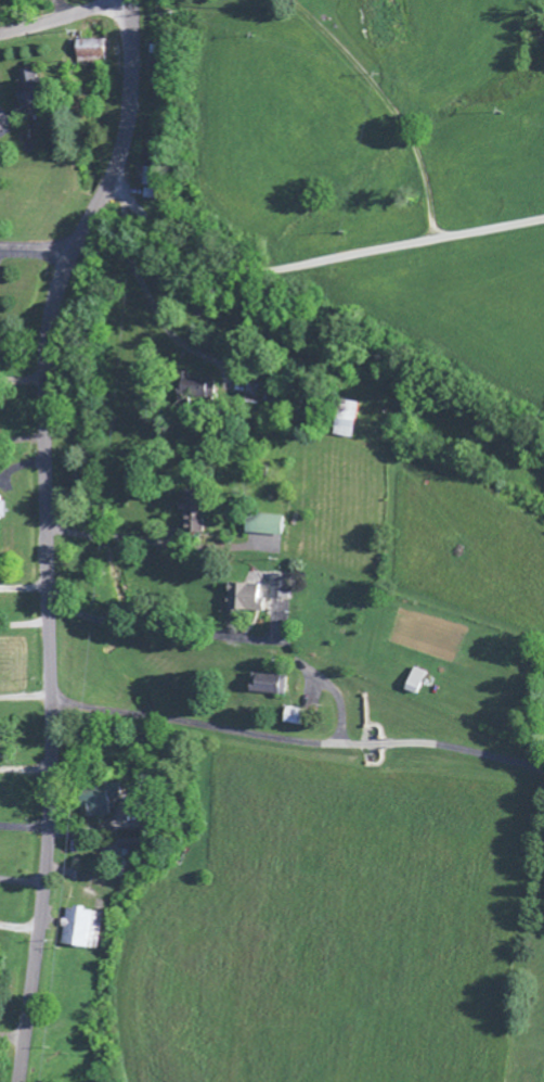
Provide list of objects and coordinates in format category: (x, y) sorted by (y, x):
road: (64, 16)
building: (86, 52)
building: (24, 90)
road: (153, 91)
building: (187, 392)
building: (248, 395)
building: (339, 421)
building: (0, 500)
building: (183, 511)
building: (257, 527)
road: (46, 533)
building: (273, 588)
building: (236, 600)
building: (409, 684)
building: (261, 687)
building: (284, 718)
building: (89, 803)
building: (75, 931)
road: (10, 1055)

